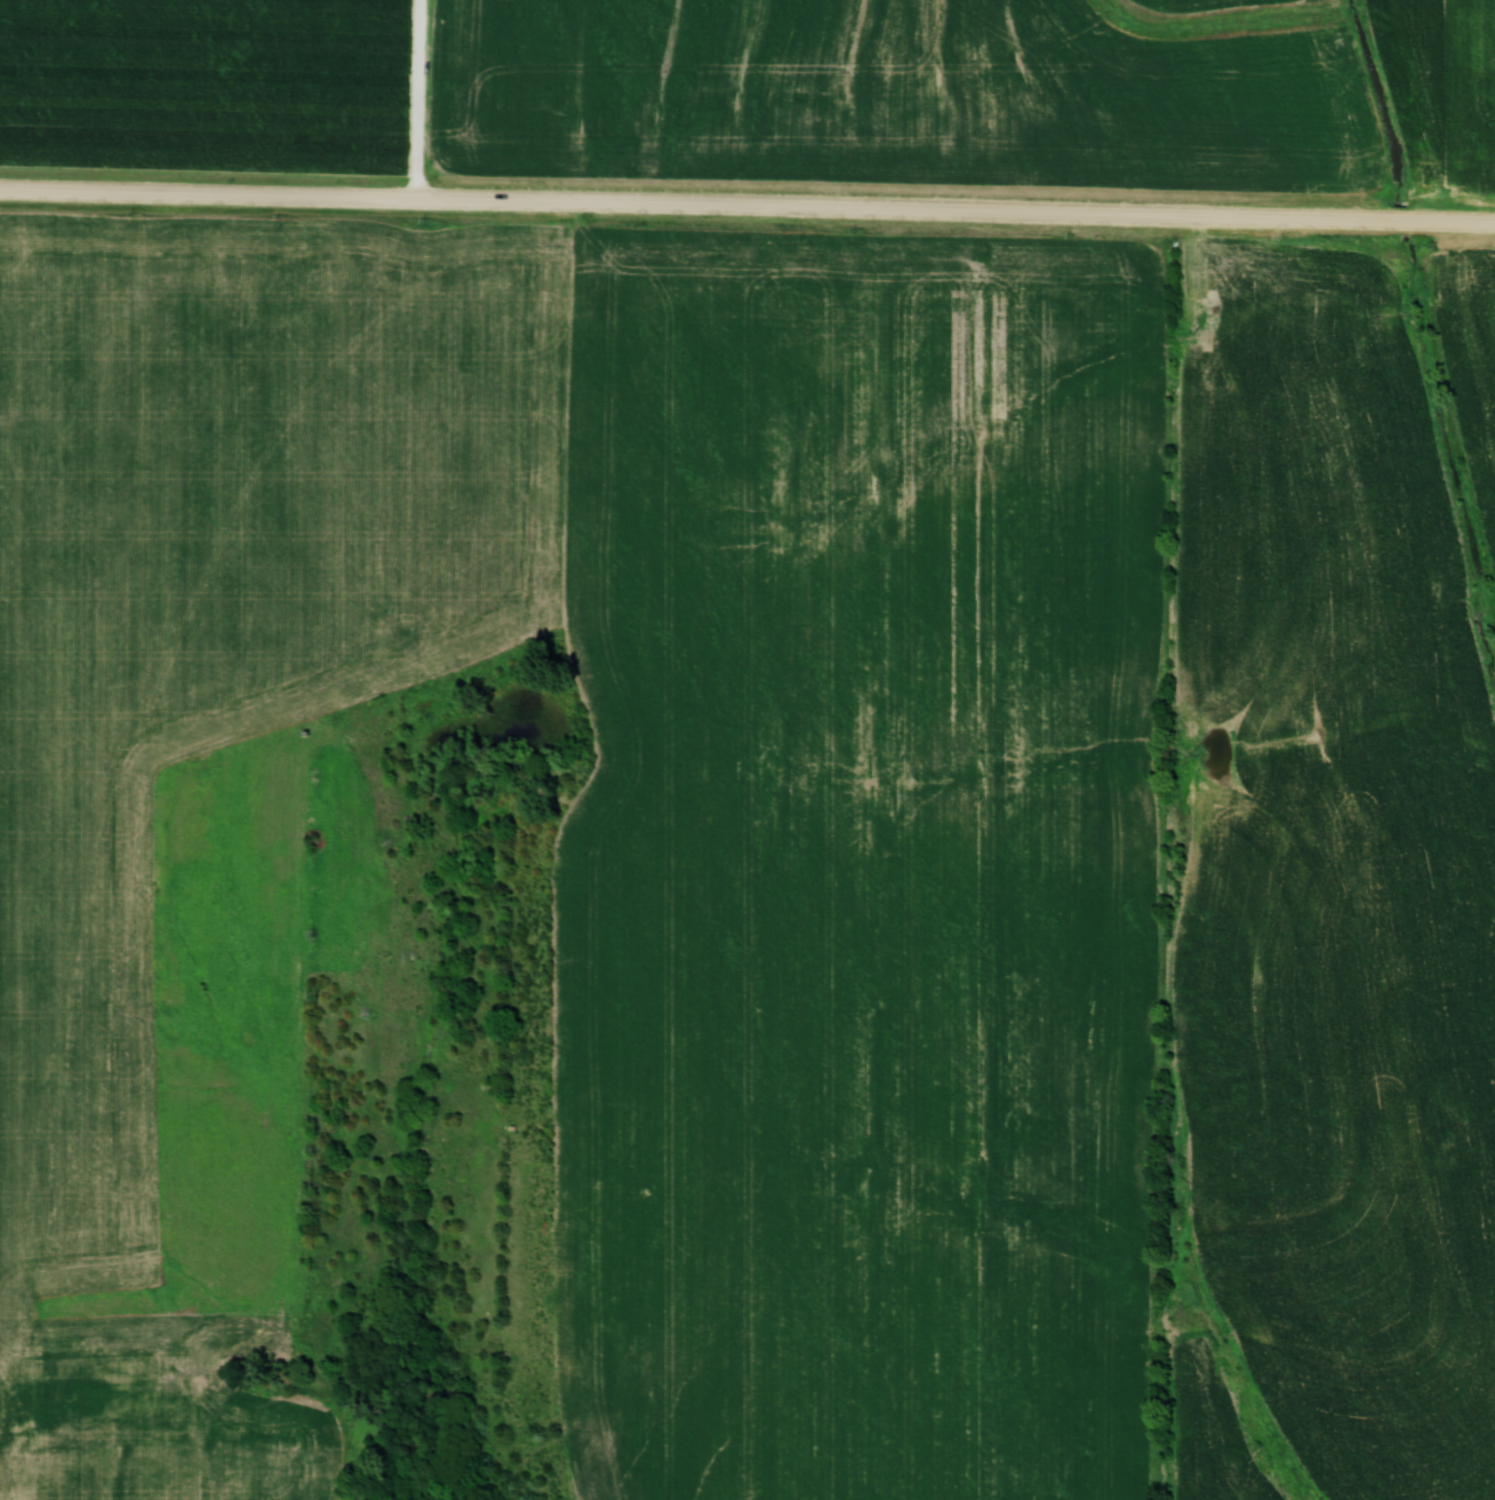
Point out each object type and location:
road: (420, 100)
road: (747, 207)

